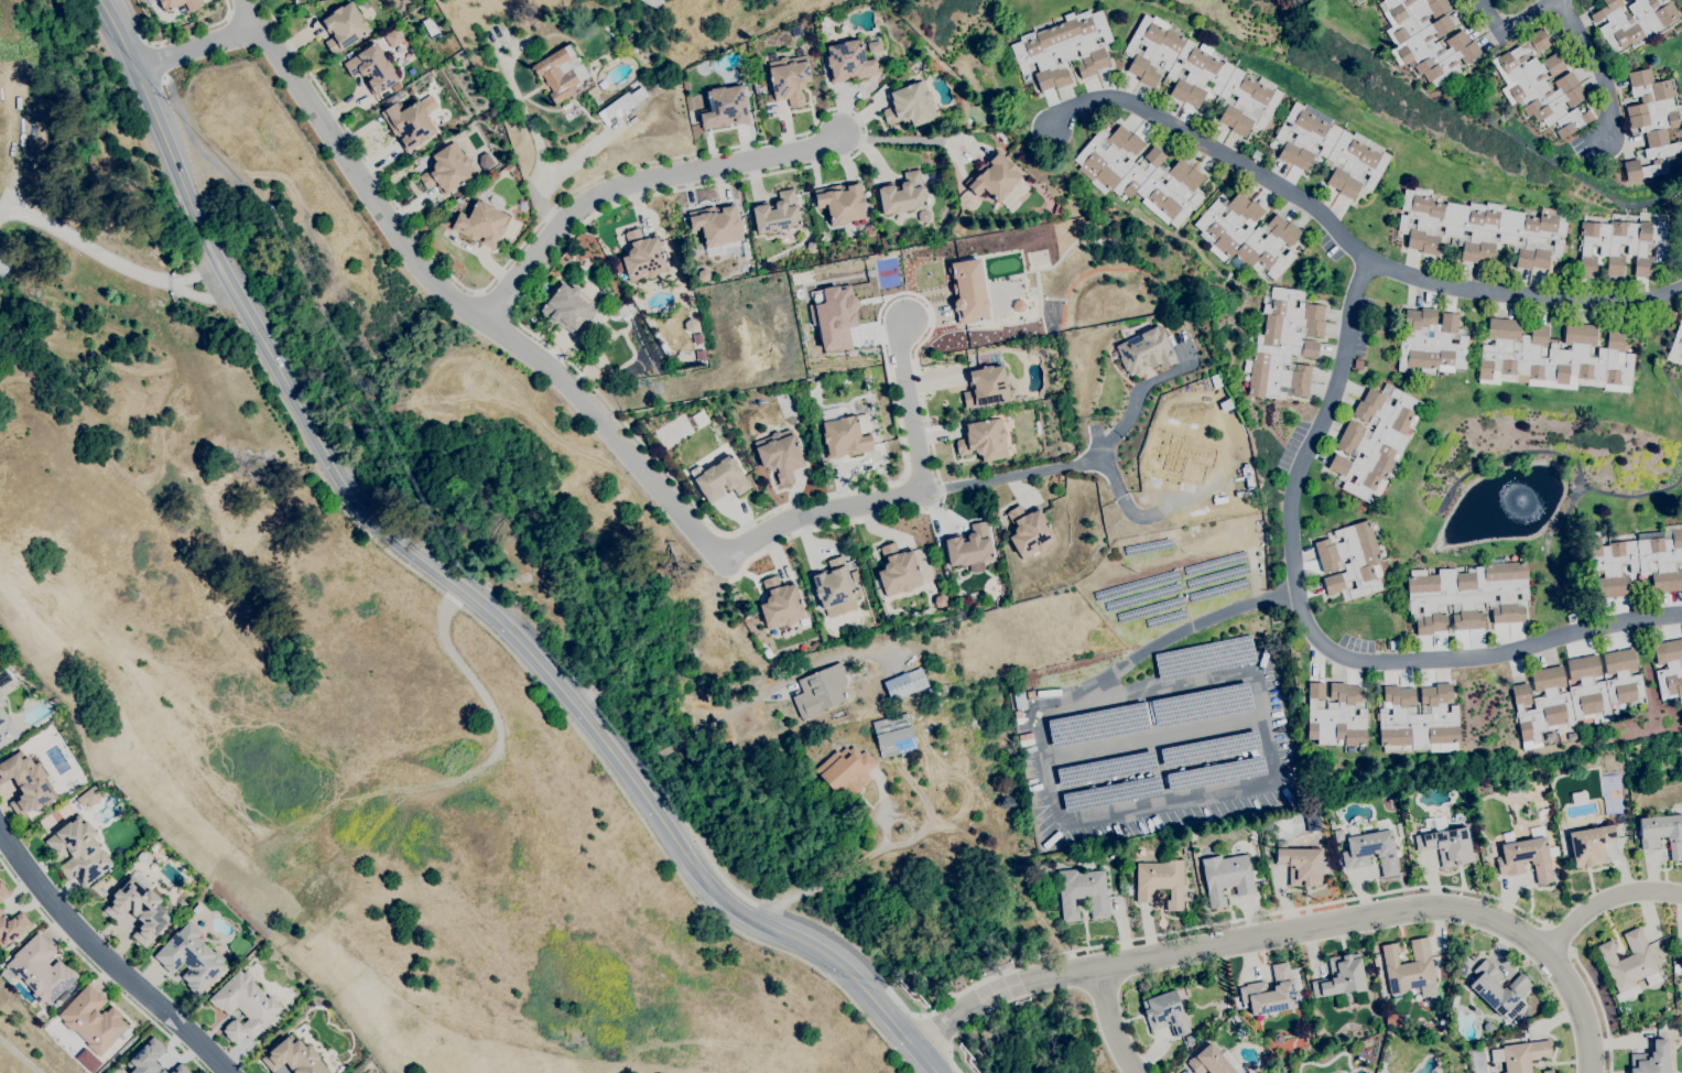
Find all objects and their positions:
building: (651, 3)
building: (180, 4)
road: (250, 15)
building: (1634, 20)
building: (825, 21)
building: (343, 26)
road: (1508, 26)
road: (196, 30)
building: (1425, 37)
building: (393, 39)
road: (148, 43)
building: (875, 46)
road: (195, 48)
building: (1063, 48)
road: (154, 61)
building: (848, 62)
road: (1593, 68)
building: (372, 69)
building: (703, 69)
building: (562, 73)
building: (1200, 76)
road: (164, 78)
building: (789, 78)
building: (1541, 85)
building: (593, 91)
road: (148, 100)
building: (910, 105)
building: (621, 106)
building: (724, 108)
building: (409, 123)
building: (1652, 124)
road: (901, 137)
road: (194, 142)
road: (539, 144)
building: (1331, 150)
road: (362, 153)
building: (485, 161)
building: (447, 170)
building: (1140, 174)
building: (998, 181)
road: (637, 185)
road: (653, 193)
building: (902, 194)
building: (842, 202)
building: (1059, 209)
building: (777, 214)
building: (480, 224)
building: (716, 227)
building: (1480, 229)
building: (1246, 236)
road: (1348, 241)
road: (209, 242)
building: (1621, 245)
building: (746, 250)
road: (112, 254)
building: (642, 256)
building: (4, 263)
building: (617, 264)
building: (703, 275)
building: (572, 291)
building: (966, 291)
road: (902, 293)
road: (239, 300)
road: (497, 302)
road: (469, 312)
building: (833, 317)
building: (691, 325)
building: (573, 339)
building: (1430, 343)
building: (1283, 345)
building: (1676, 346)
building: (1143, 351)
building: (1554, 357)
road: (1144, 384)
building: (985, 386)
road: (897, 426)
building: (845, 433)
building: (984, 440)
building: (1374, 442)
building: (780, 455)
building: (1184, 455)
road: (1026, 474)
building: (721, 479)
road: (908, 496)
road: (891, 514)
road: (1141, 517)
building: (1029, 531)
building: (969, 548)
building: (1350, 561)
building: (1638, 562)
building: (898, 570)
building: (834, 586)
building: (858, 593)
building: (1468, 595)
building: (940, 600)
building: (780, 604)
building: (847, 631)
road: (1311, 633)
building: (1669, 668)
building: (3, 678)
building: (904, 684)
building: (821, 691)
building: (934, 691)
building: (1574, 693)
building: (1019, 700)
road: (738, 707)
road: (578, 711)
building: (1016, 713)
building: (1335, 715)
building: (1019, 720)
building: (1418, 720)
building: (6, 726)
building: (893, 735)
road: (1153, 739)
building: (846, 770)
building: (26, 783)
building: (89, 796)
building: (1578, 798)
road: (1109, 815)
building: (1311, 822)
building: (1193, 830)
building: (1663, 832)
building: (1338, 835)
building: (1320, 842)
building: (1445, 842)
building: (1591, 845)
road: (699, 848)
building: (1371, 848)
building: (78, 850)
building: (1527, 854)
building: (143, 857)
road: (861, 857)
building: (1300, 865)
building: (1485, 865)
building: (1226, 877)
building: (1160, 881)
building: (3, 891)
building: (1083, 893)
road: (1606, 899)
building: (139, 908)
road: (769, 908)
building: (12, 926)
road: (1205, 926)
road: (1293, 931)
road: (1554, 937)
road: (839, 942)
building: (191, 957)
road: (106, 960)
building: (1681, 960)
building: (1627, 961)
building: (1675, 968)
building: (40, 969)
building: (1410, 969)
building: (1463, 969)
road: (96, 971)
building: (1343, 979)
building: (1498, 990)
building: (1270, 991)
building: (1455, 1000)
building: (245, 1006)
building: (1623, 1008)
road: (1593, 1009)
building: (1168, 1011)
building: (1391, 1019)
building: (94, 1020)
road: (1111, 1021)
building: (1663, 1023)
building: (1487, 1027)
road: (935, 1031)
building: (1240, 1032)
building: (1524, 1034)
building: (1191, 1038)
building: (1278, 1038)
road: (127, 1047)
road: (20, 1054)
building: (1523, 1055)
building: (148, 1058)
building: (294, 1058)
building: (1650, 1059)
road: (951, 1061)
building: (1213, 1061)
building: (180, 1070)
building: (1547, 1071)

